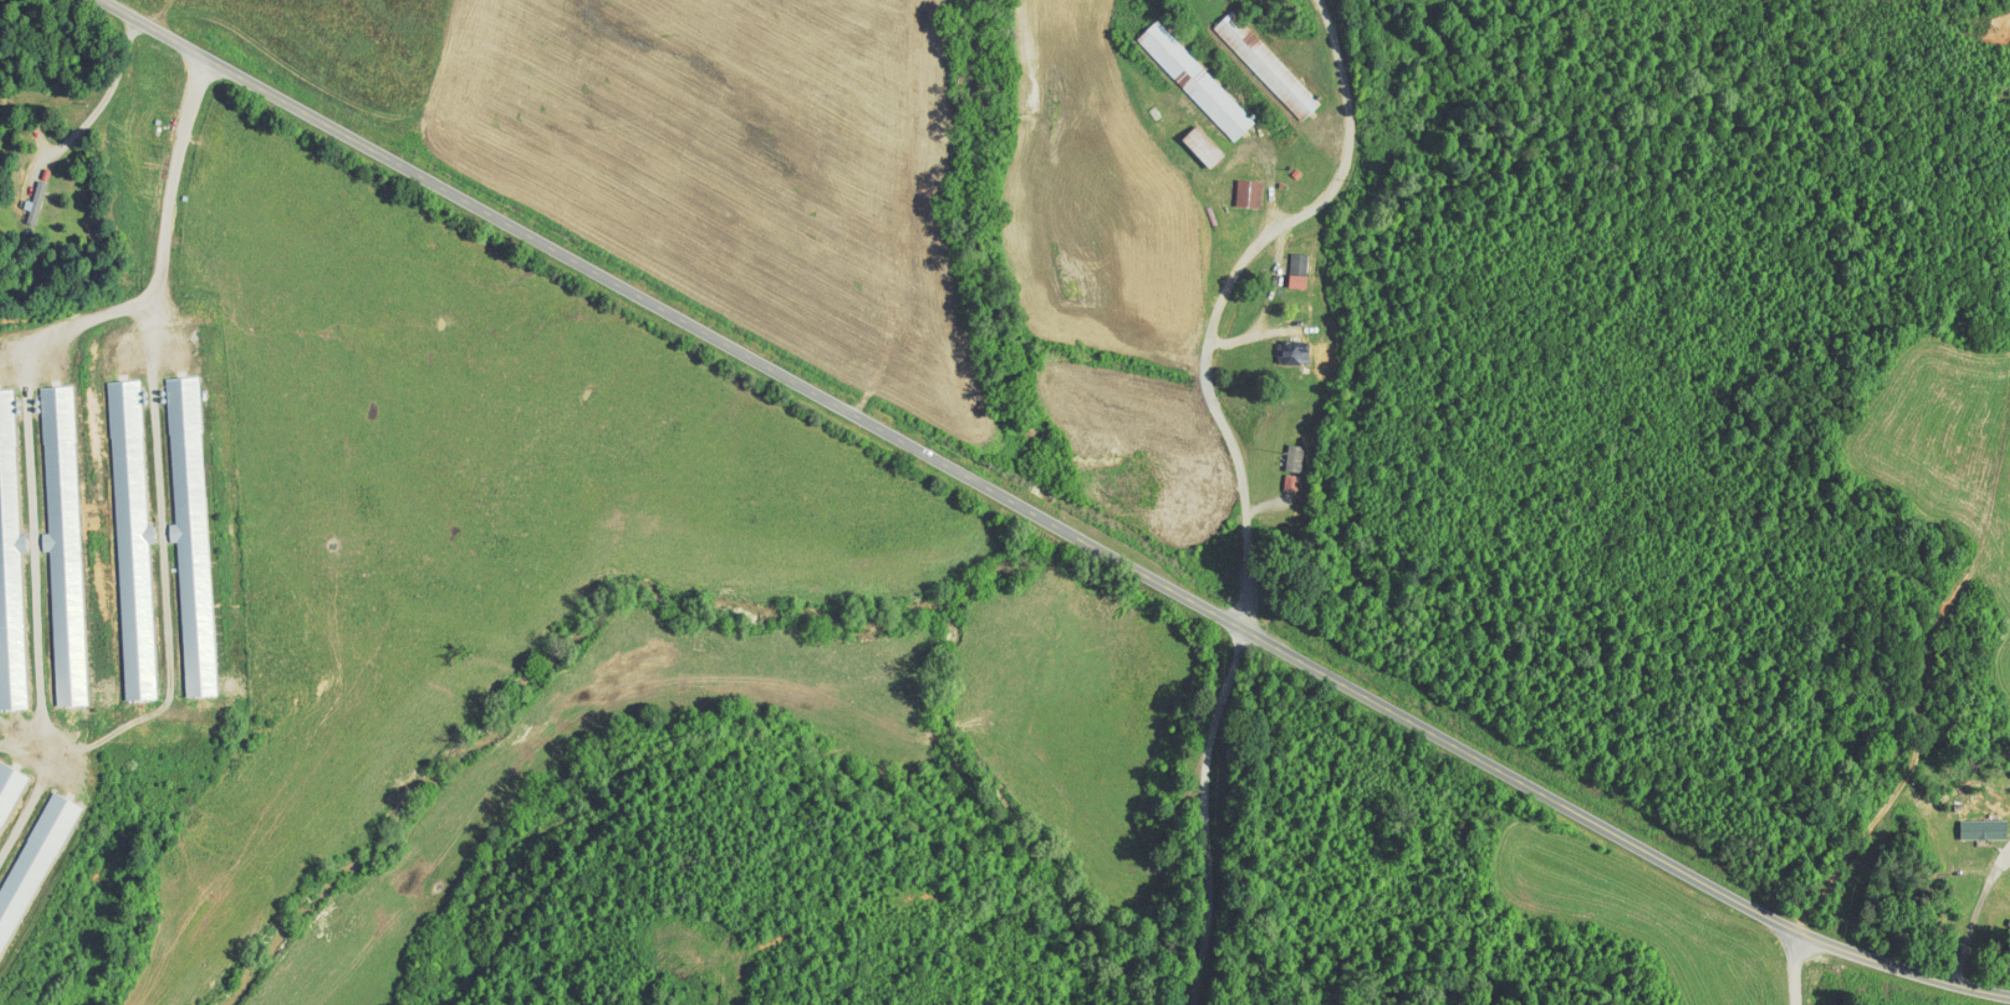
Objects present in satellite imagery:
building: (1255, 58)
building: (1184, 73)
road: (96, 87)
road: (1350, 133)
building: (1190, 140)
road: (164, 177)
building: (1237, 187)
building: (23, 196)
building: (1286, 264)
road: (1218, 418)
building: (1283, 451)
road: (953, 463)
building: (1280, 476)
building: (179, 527)
building: (120, 534)
building: (51, 537)
building: (5, 593)
road: (1925, 674)
building: (4, 773)
road: (1206, 811)
building: (1971, 823)
building: (25, 842)
road: (1796, 968)
road: (1898, 971)

